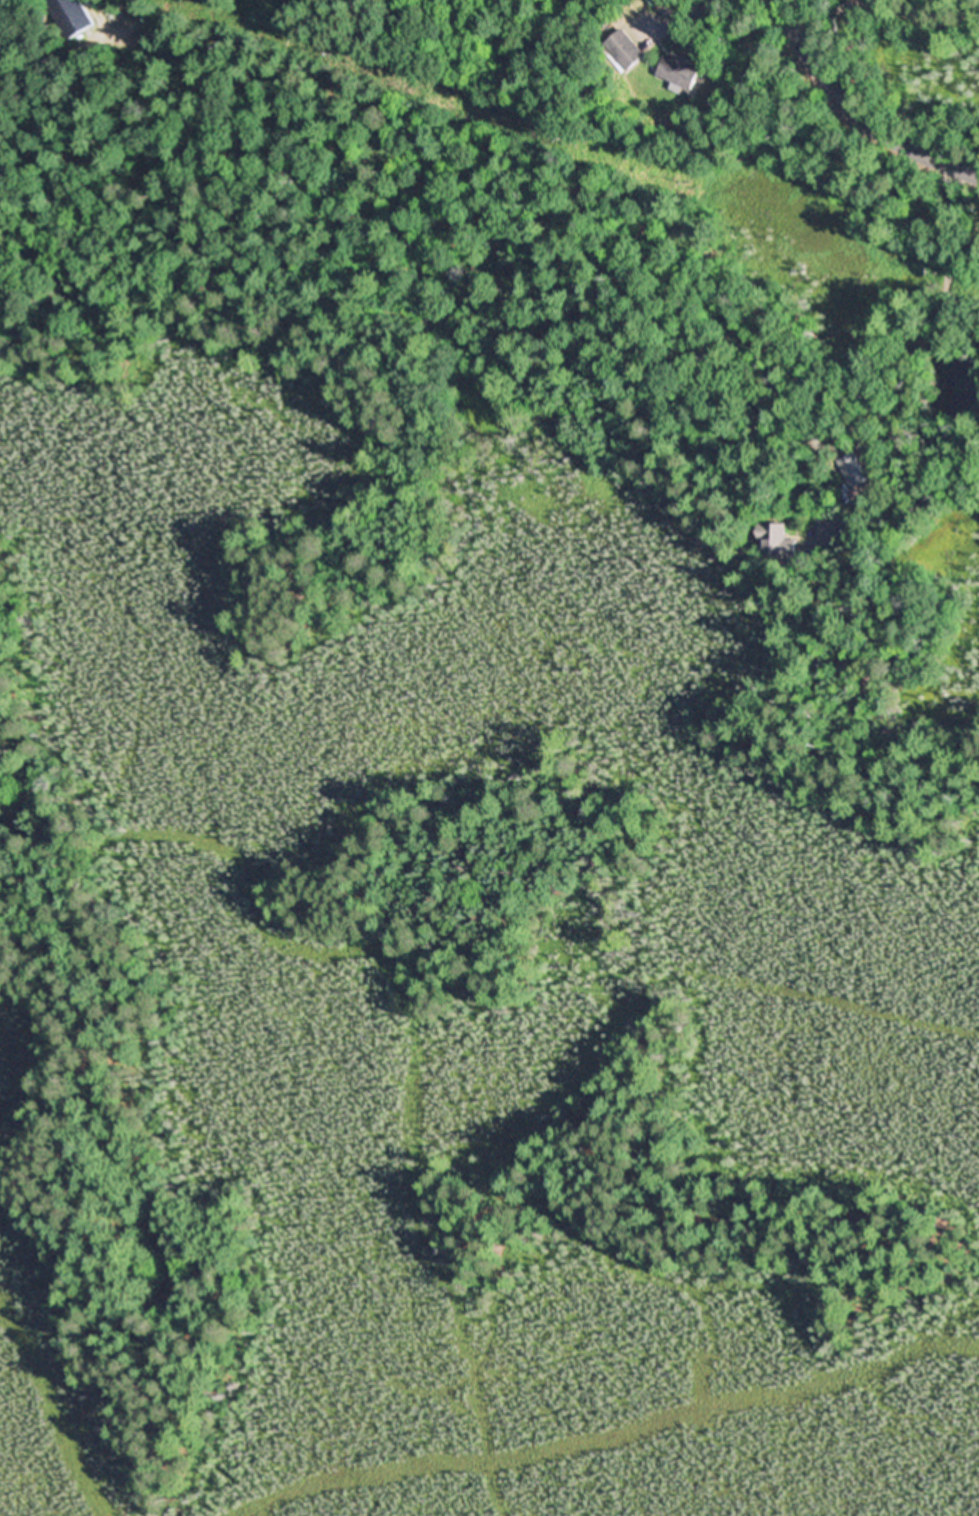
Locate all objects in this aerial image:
building: (1, 0)
building: (76, 14)
road: (821, 17)
building: (623, 50)
building: (680, 71)
road: (855, 114)
building: (780, 540)

